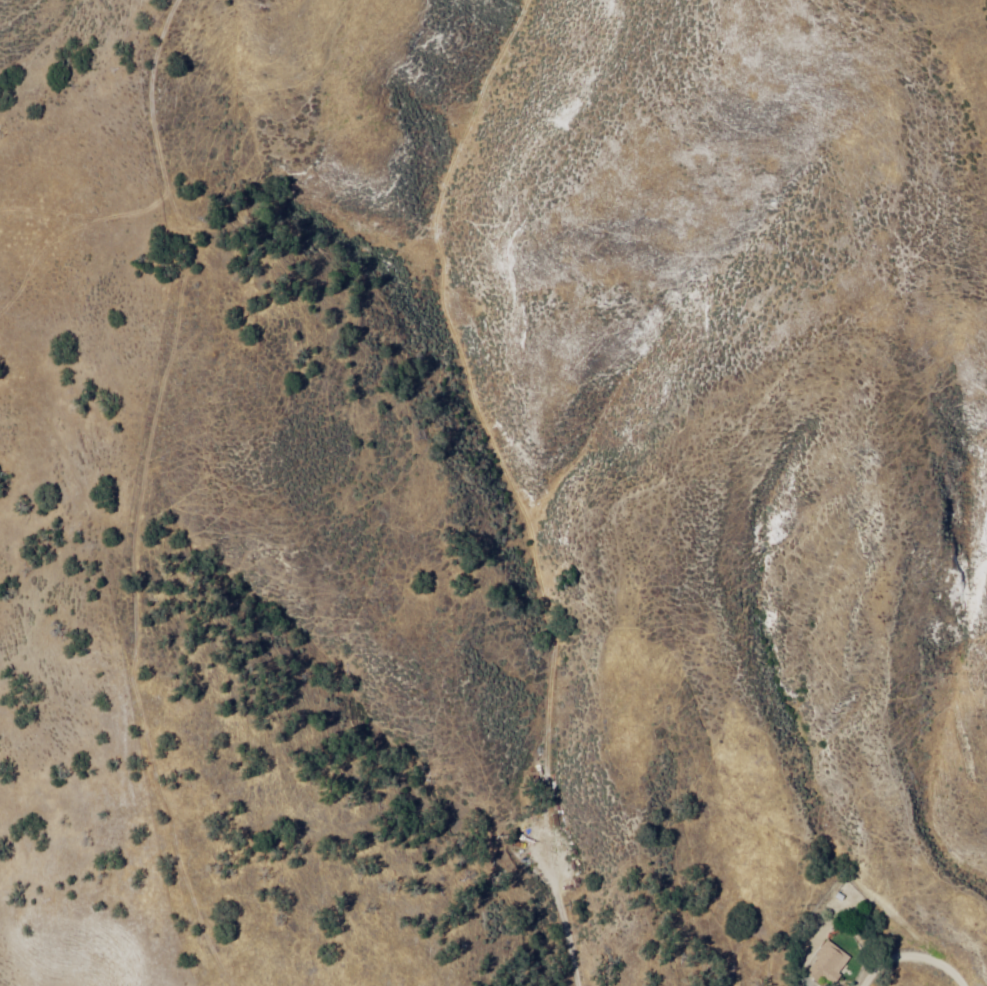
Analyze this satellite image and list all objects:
building: (825, 964)

